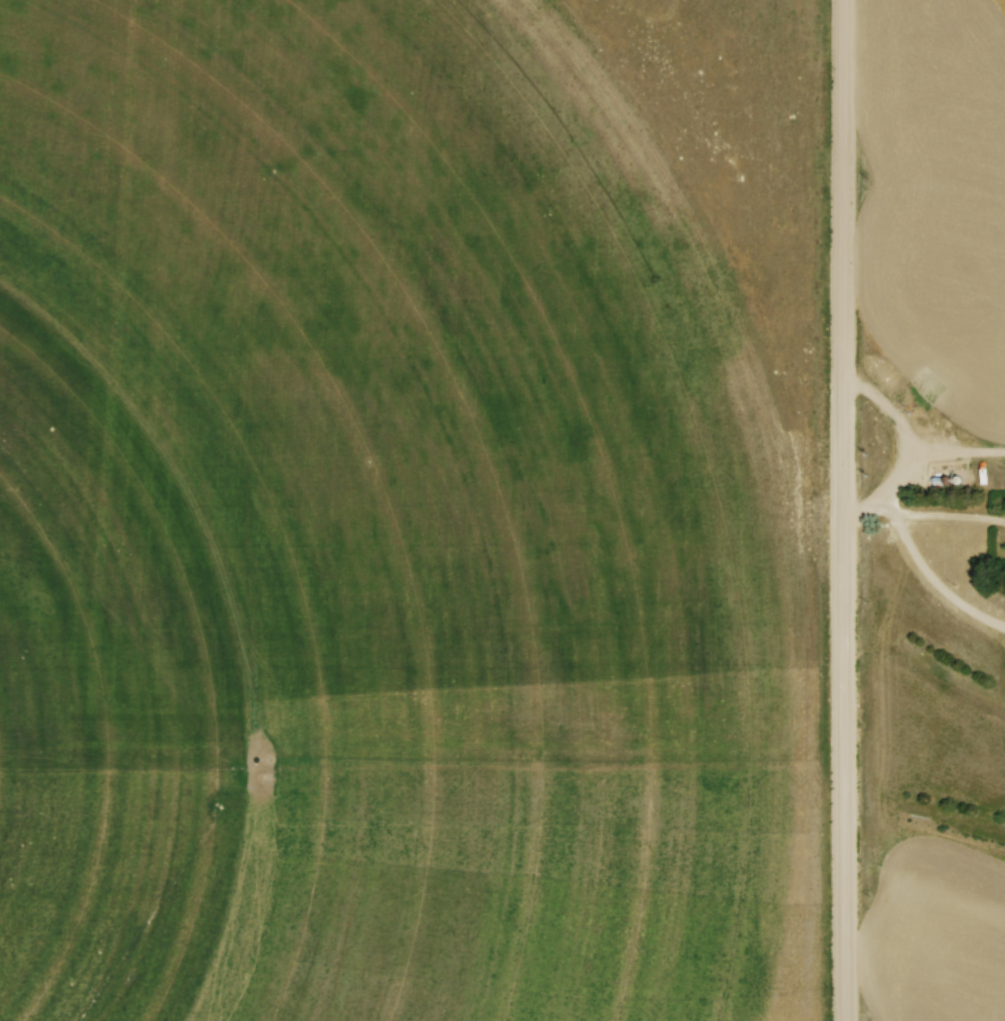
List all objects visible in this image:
road: (910, 448)
road: (848, 510)

